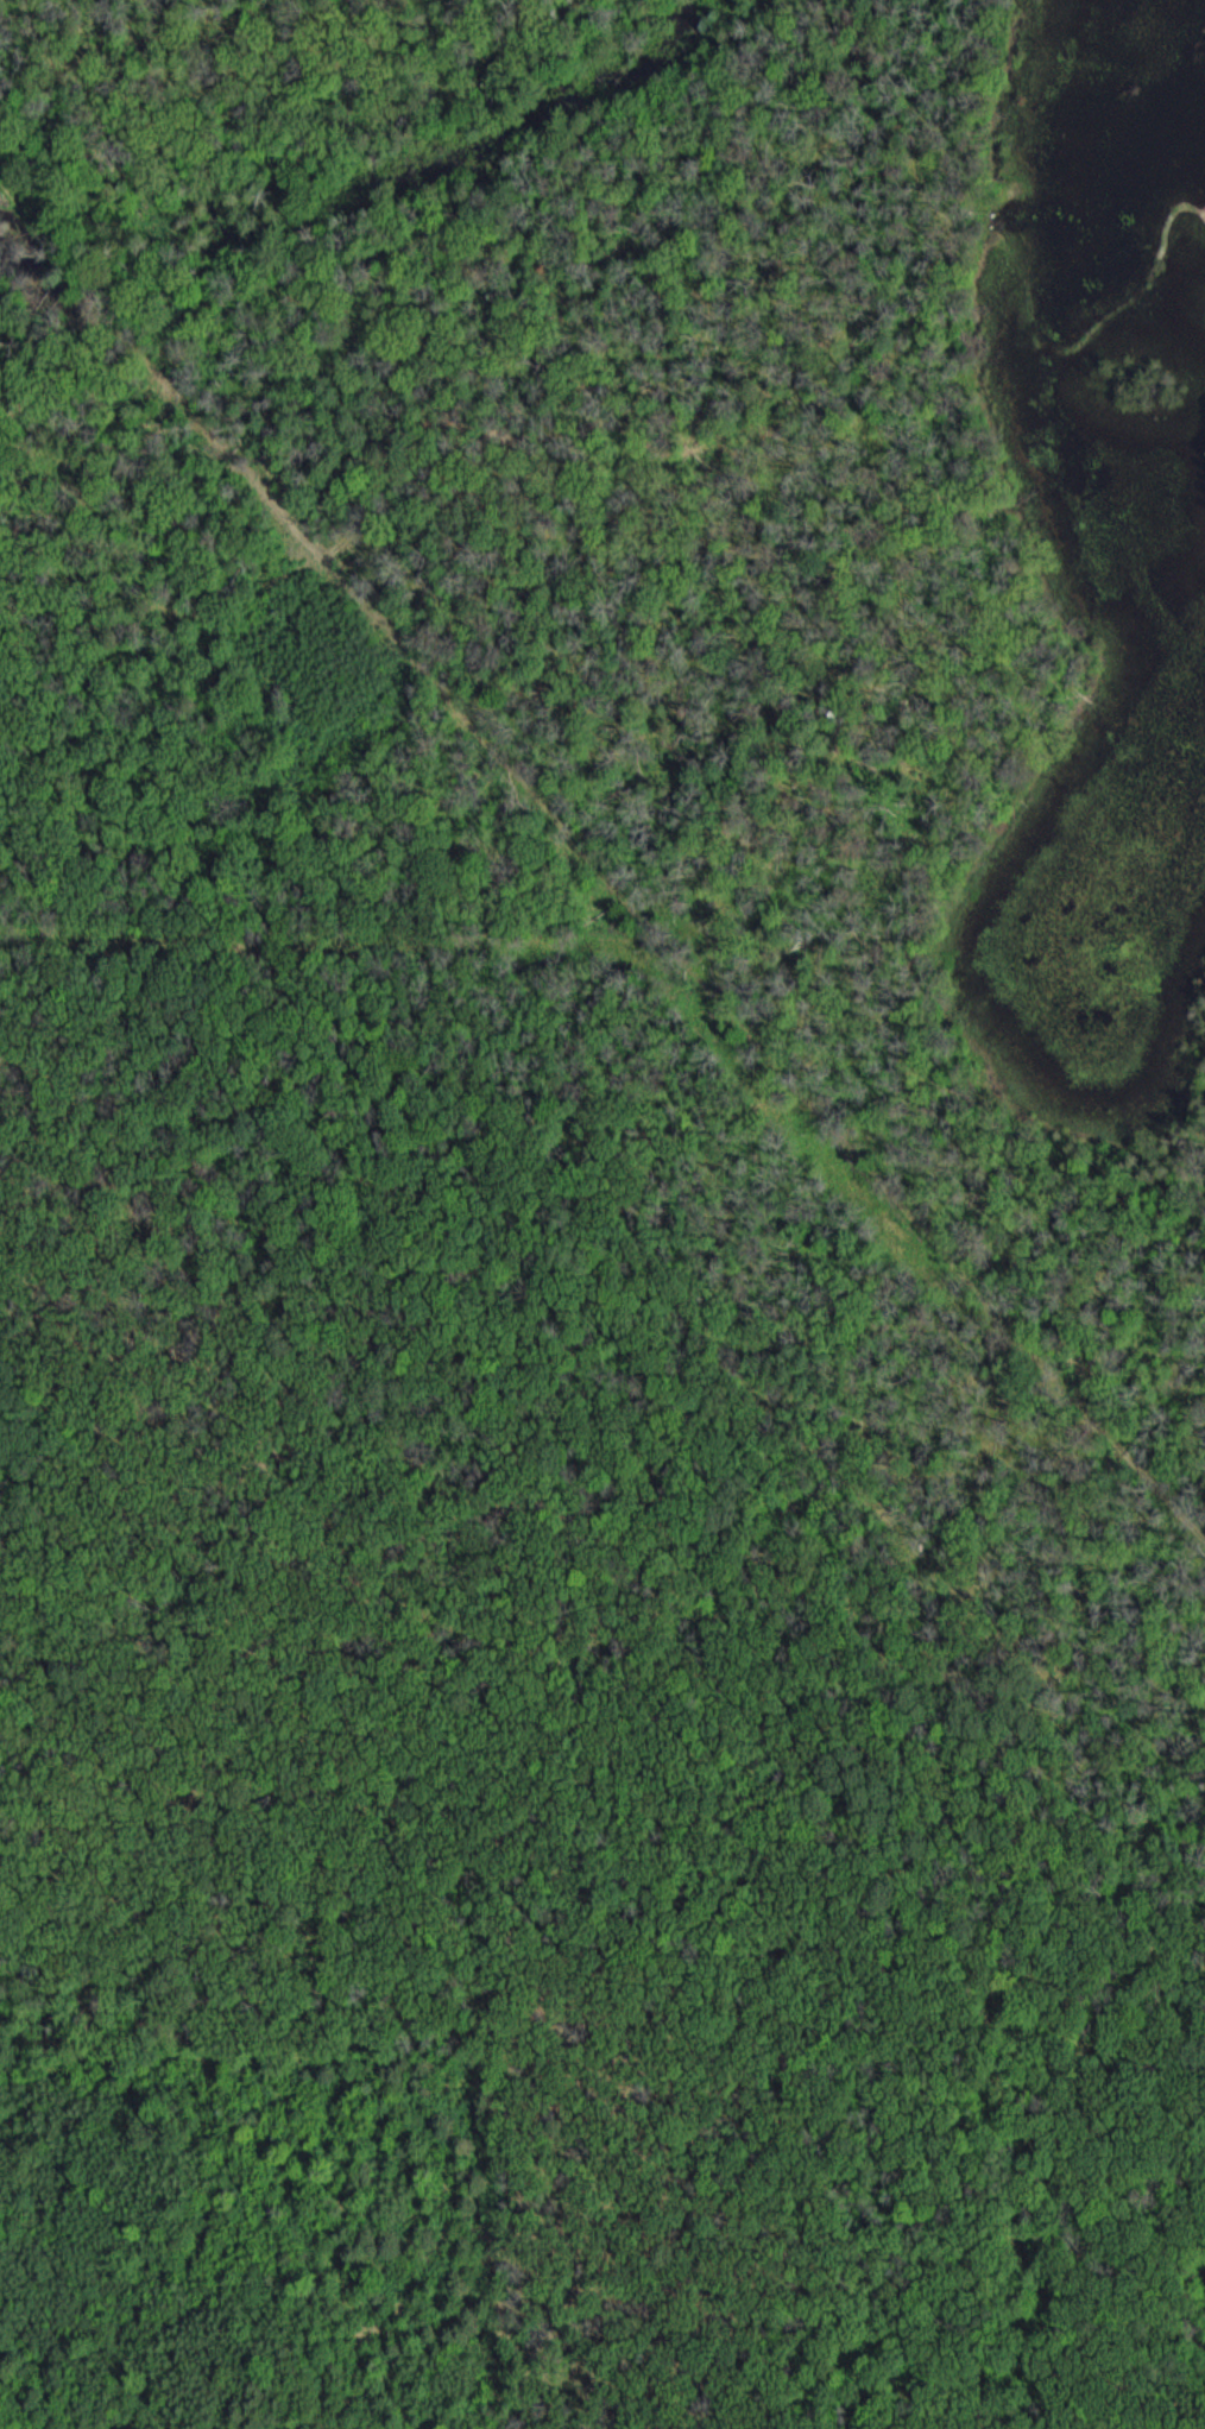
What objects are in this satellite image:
road: (76, 264)
road: (463, 690)
road: (990, 1261)

